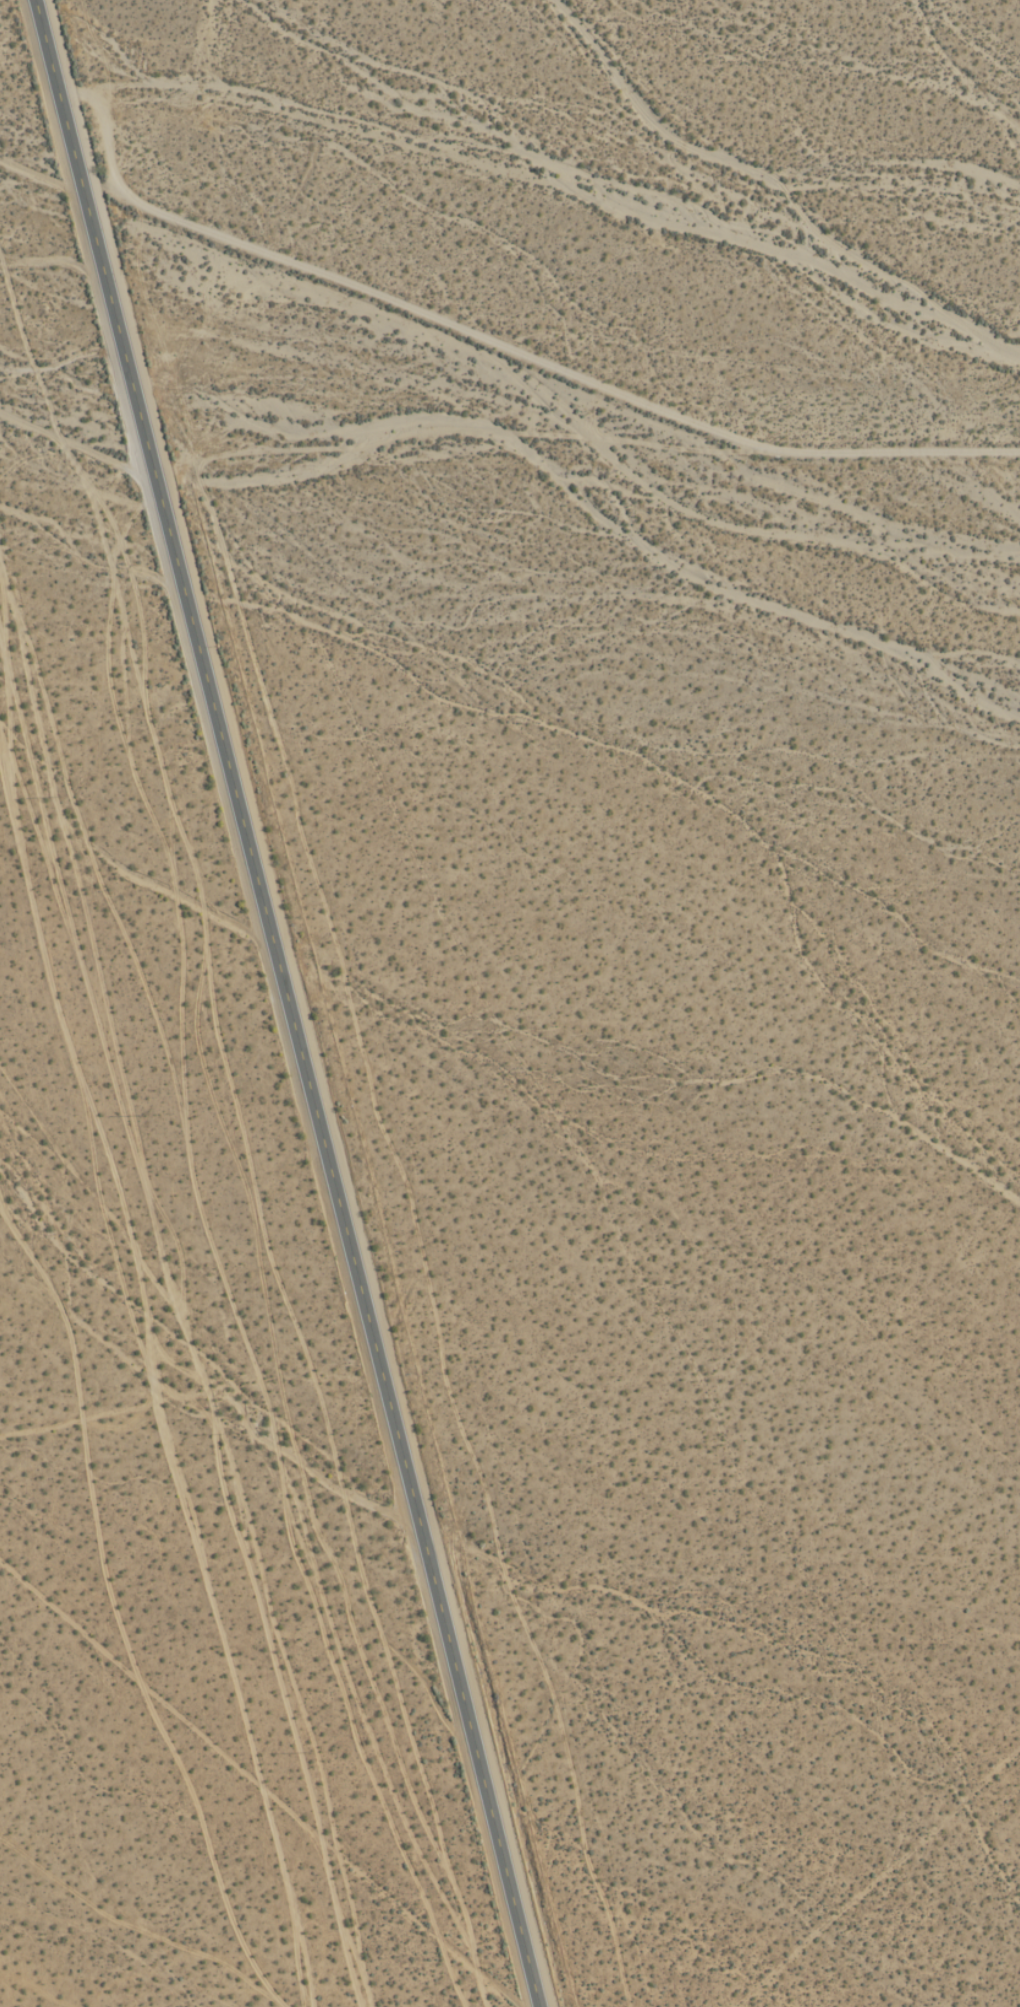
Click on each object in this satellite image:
road: (287, 1003)

